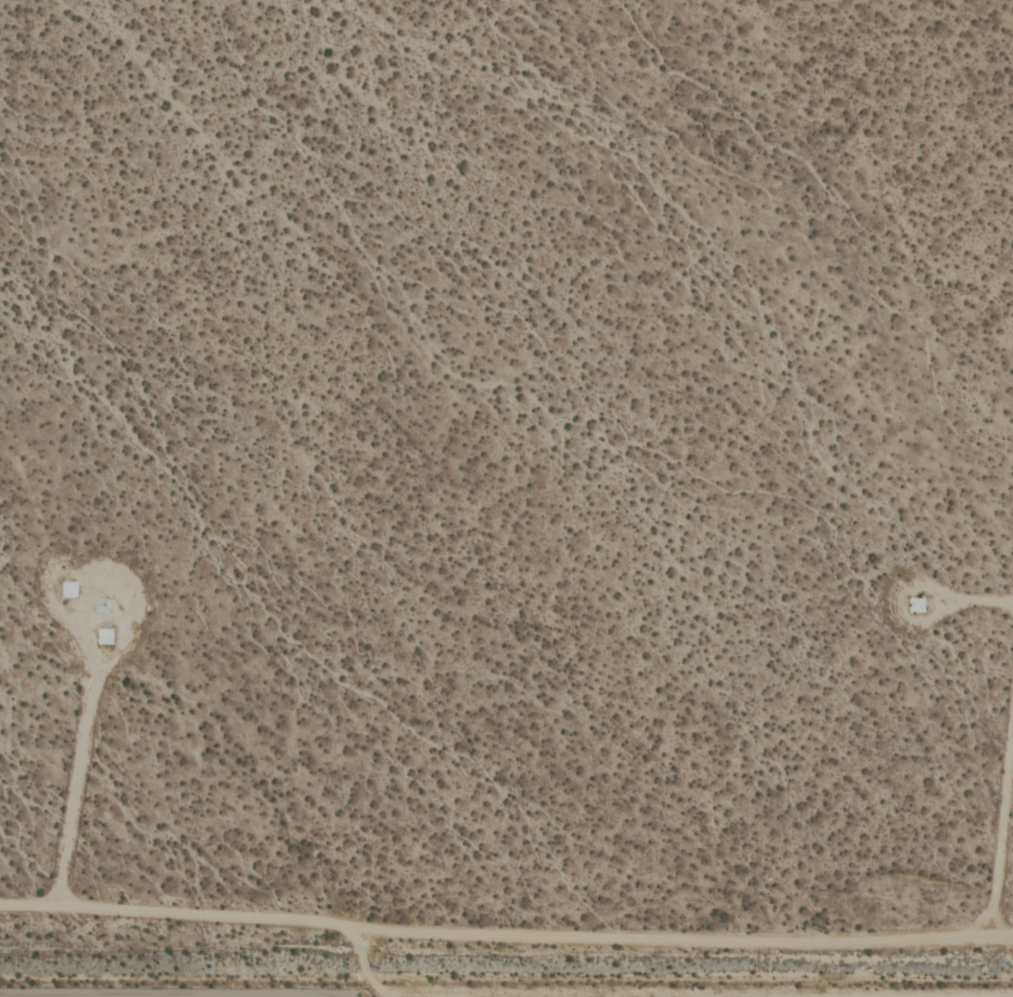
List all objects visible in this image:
airport: (506, 498)
road: (506, 932)
road: (669, 992)

